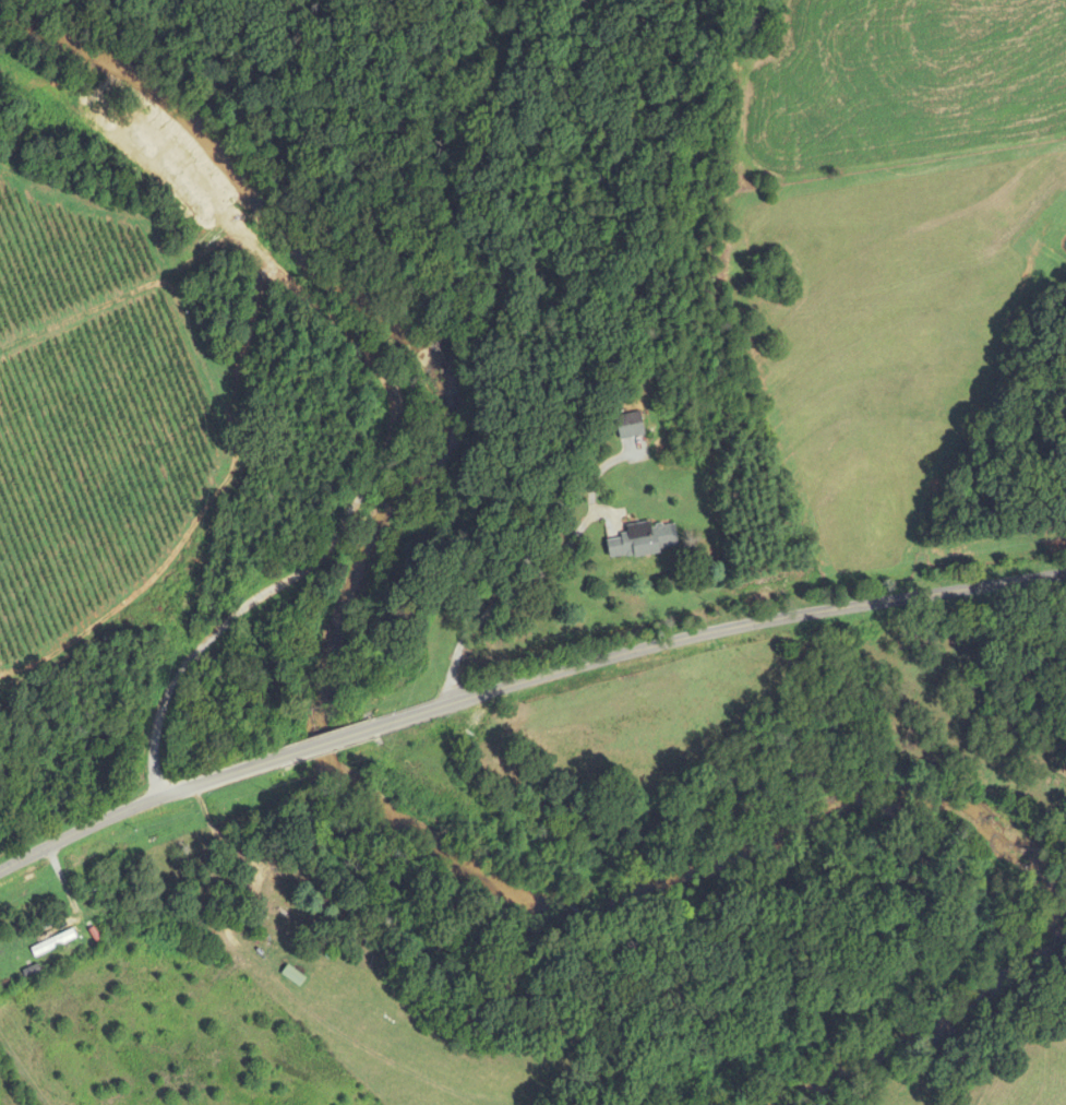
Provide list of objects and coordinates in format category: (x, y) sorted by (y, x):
building: (627, 423)
building: (643, 540)
road: (510, 594)
road: (712, 633)
road: (328, 740)
road: (141, 804)
building: (123, 916)
building: (52, 943)
building: (292, 976)
road: (22, 1071)

